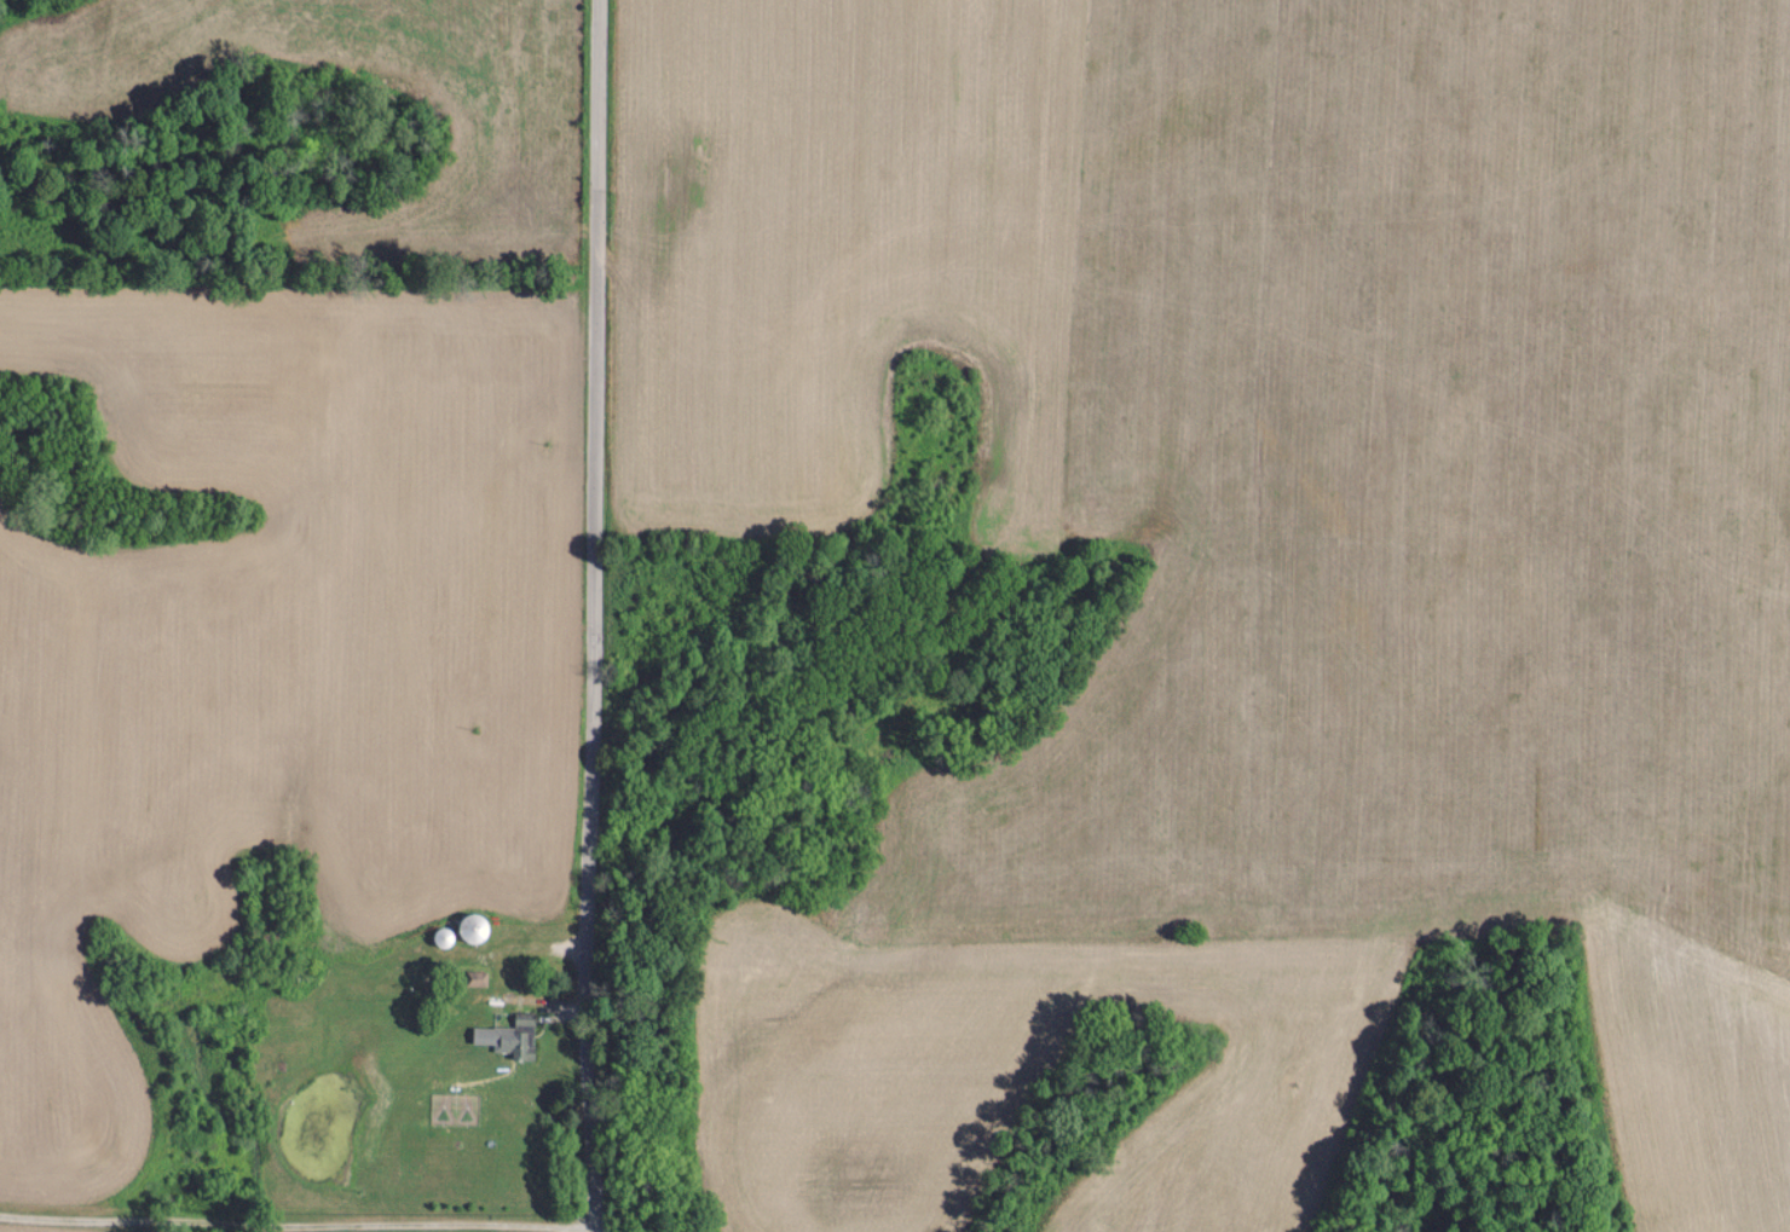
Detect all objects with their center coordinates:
road: (583, 615)
building: (509, 1035)
road: (298, 1222)

